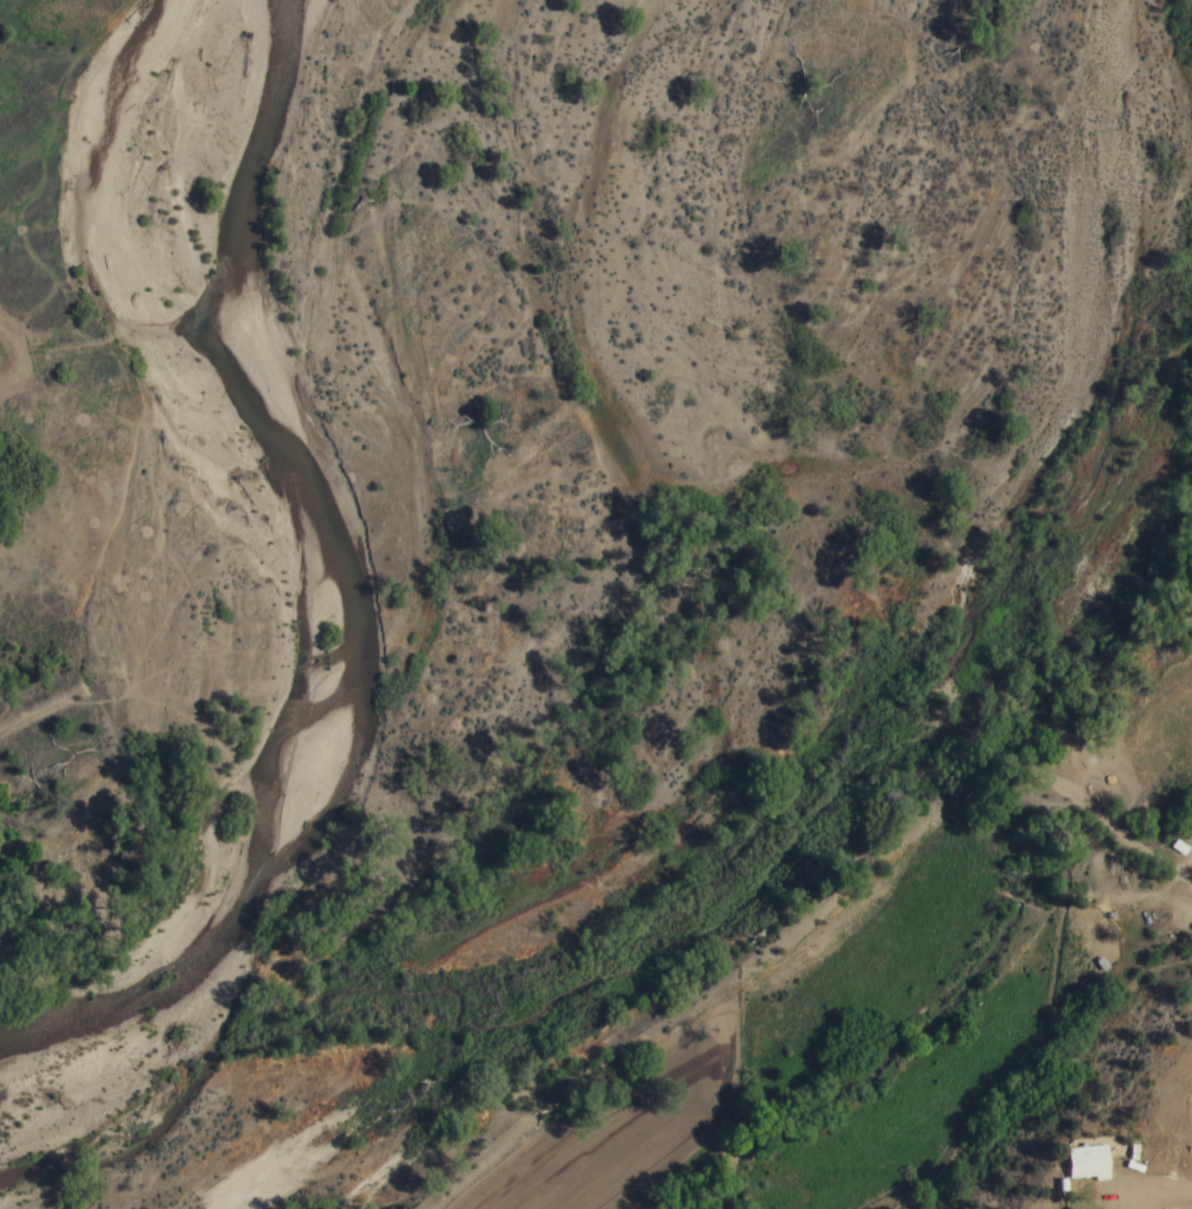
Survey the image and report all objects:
river: (815, 737)
road: (1119, 965)
building: (1077, 1165)

